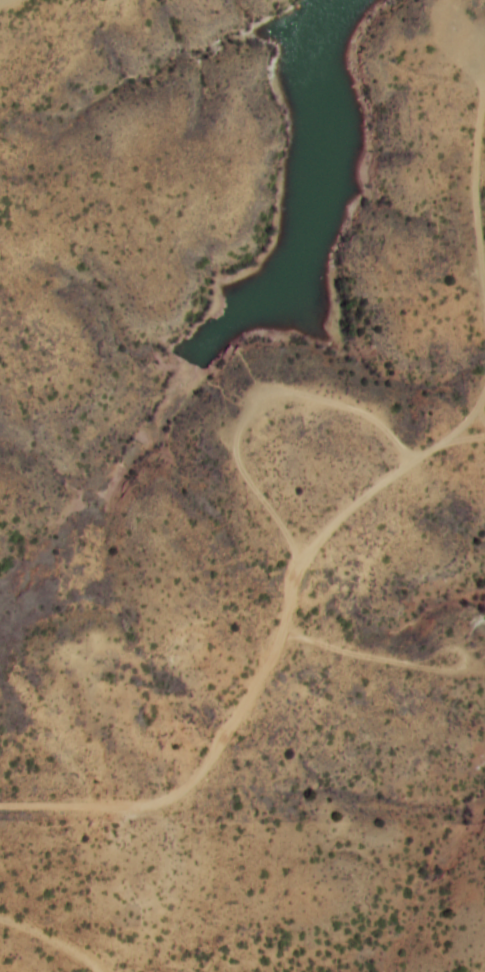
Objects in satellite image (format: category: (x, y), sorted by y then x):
road: (49, 941)

